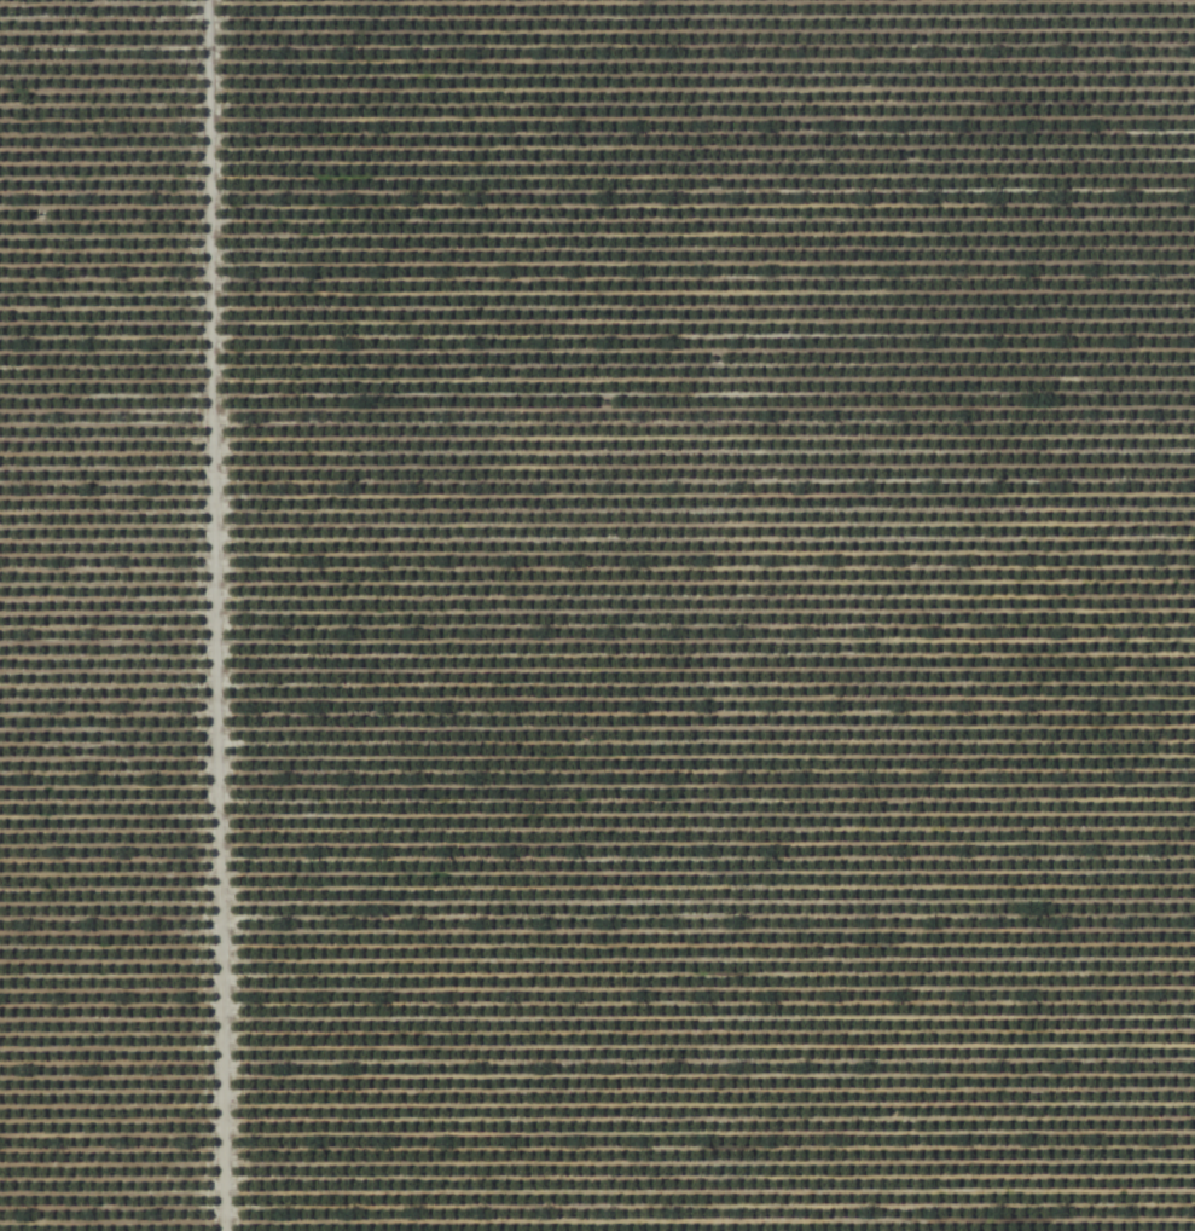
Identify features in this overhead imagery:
road: (210, 615)
crop: (597, 615)

